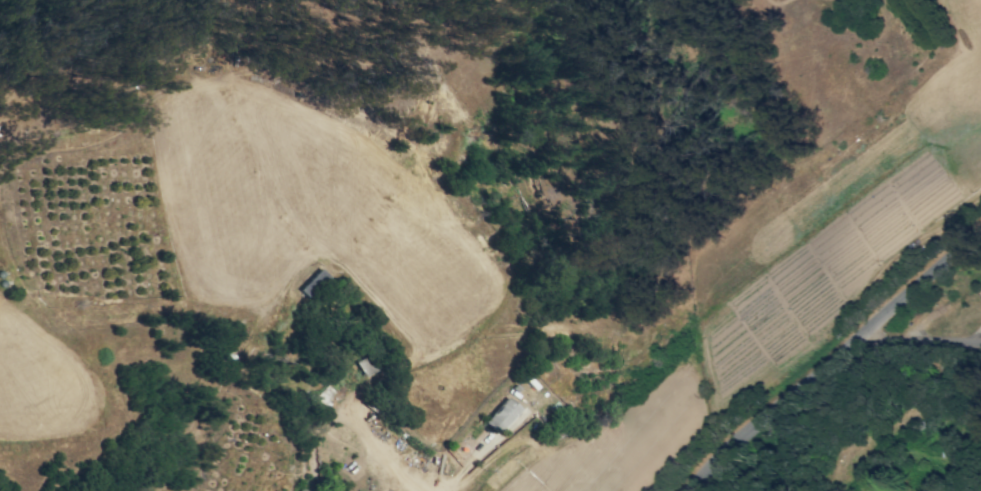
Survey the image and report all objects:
crop: (224, 223)
road: (896, 276)
building: (314, 284)
road: (925, 344)
road: (835, 365)
building: (503, 414)
crop: (238, 450)
building: (302, 489)

